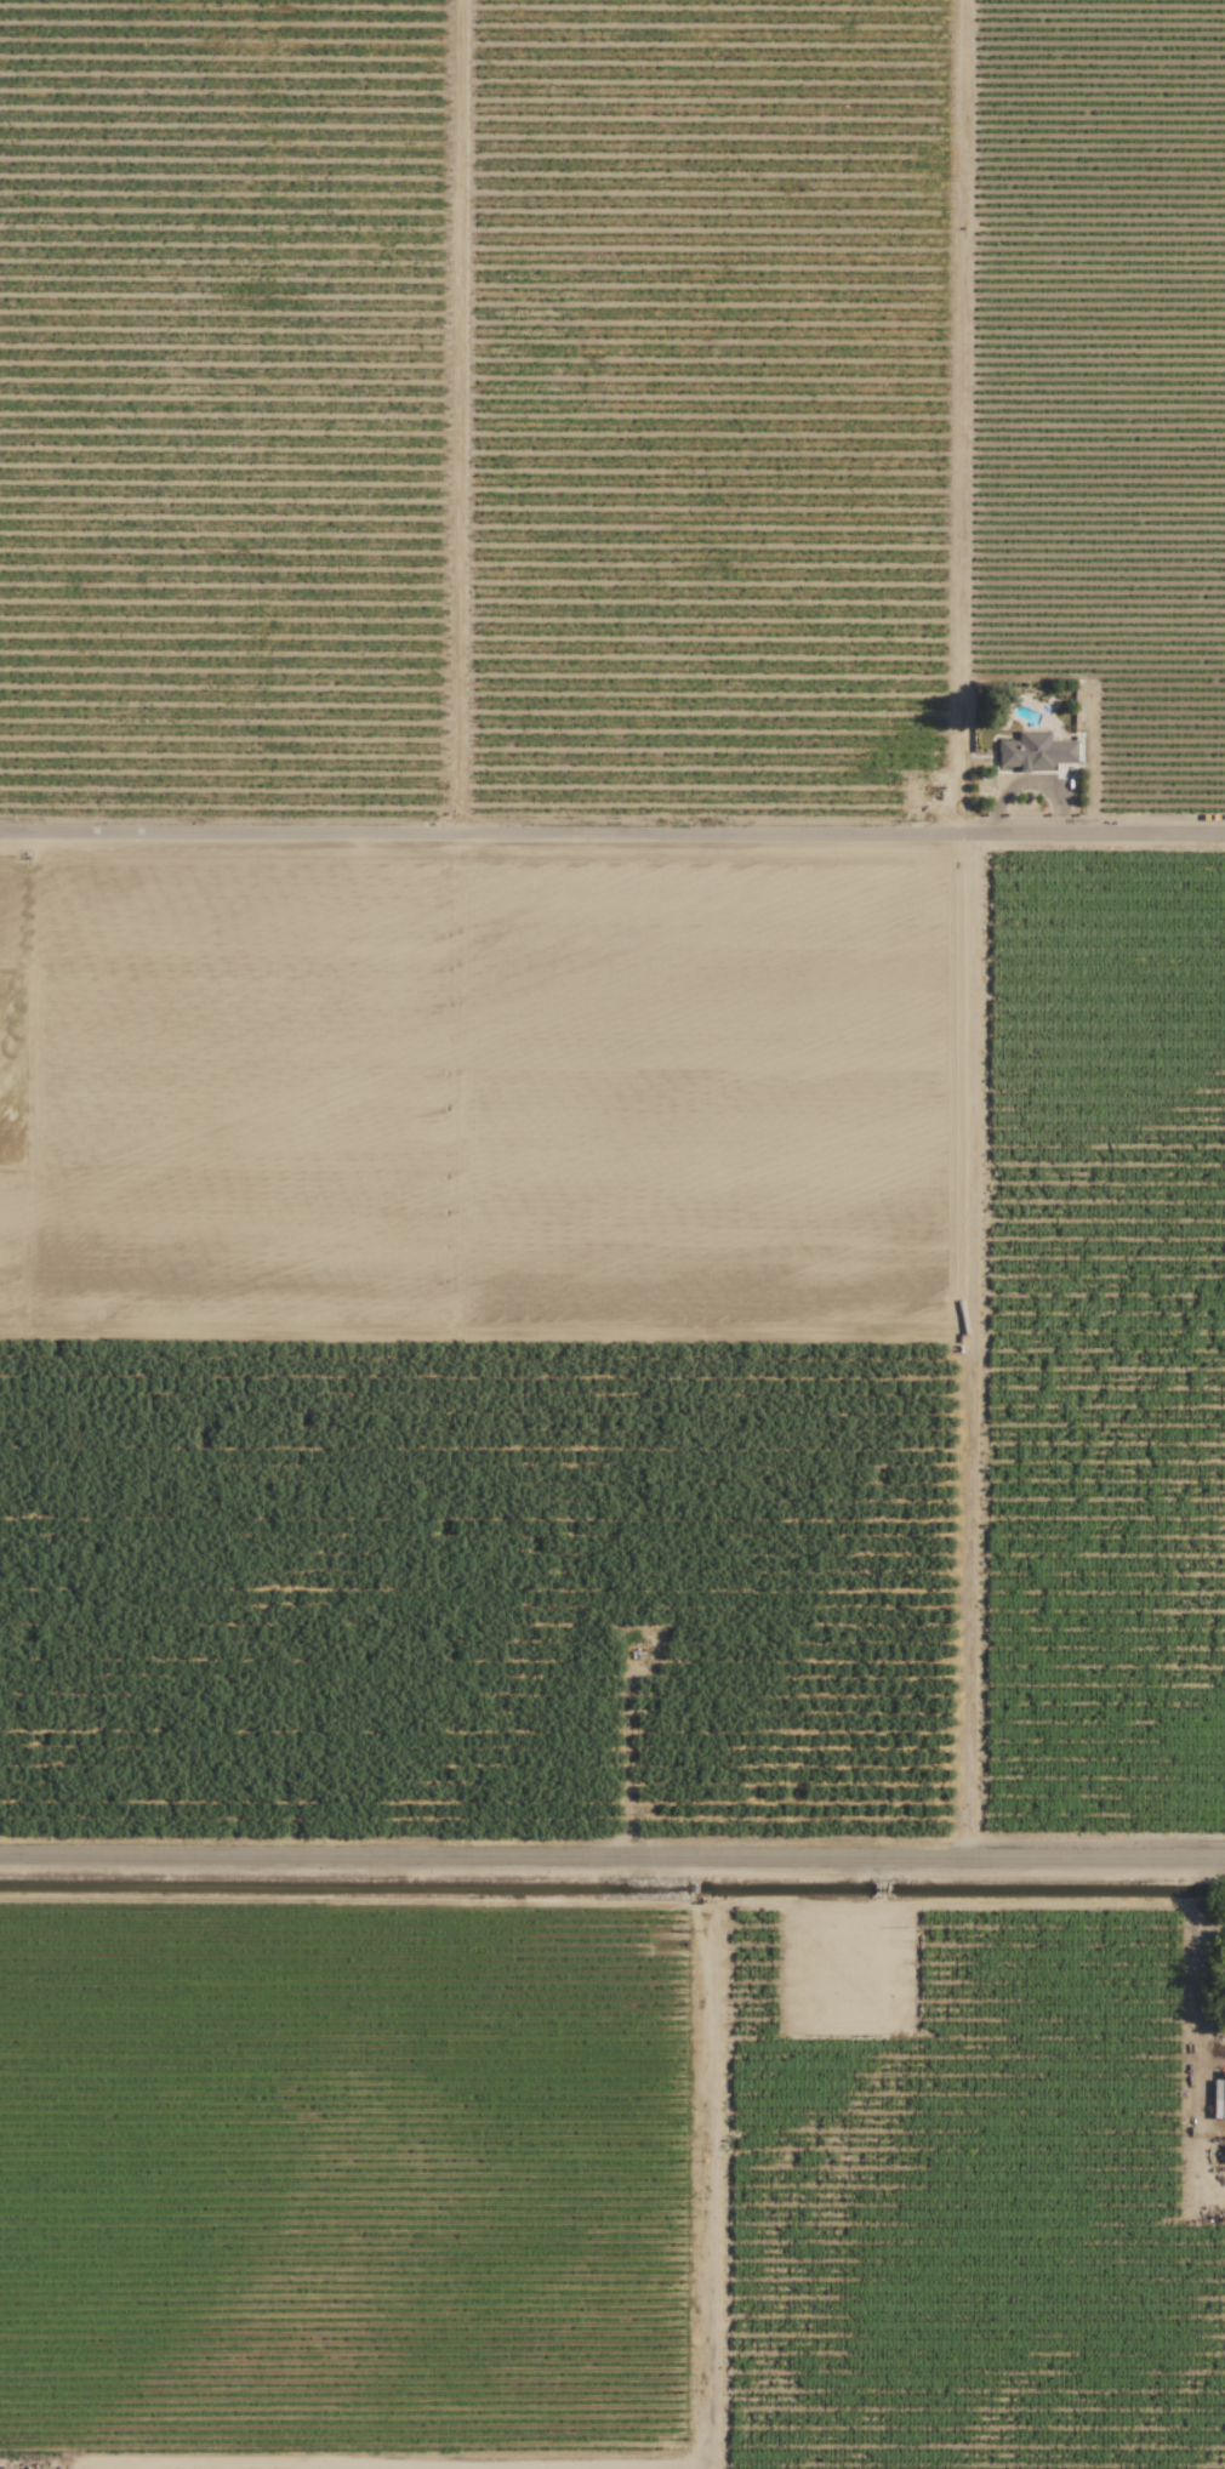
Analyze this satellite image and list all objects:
building: (1035, 751)
road: (612, 835)
road: (612, 1872)
building: (1219, 2097)
building: (1224, 2154)
building: (5, 2468)

